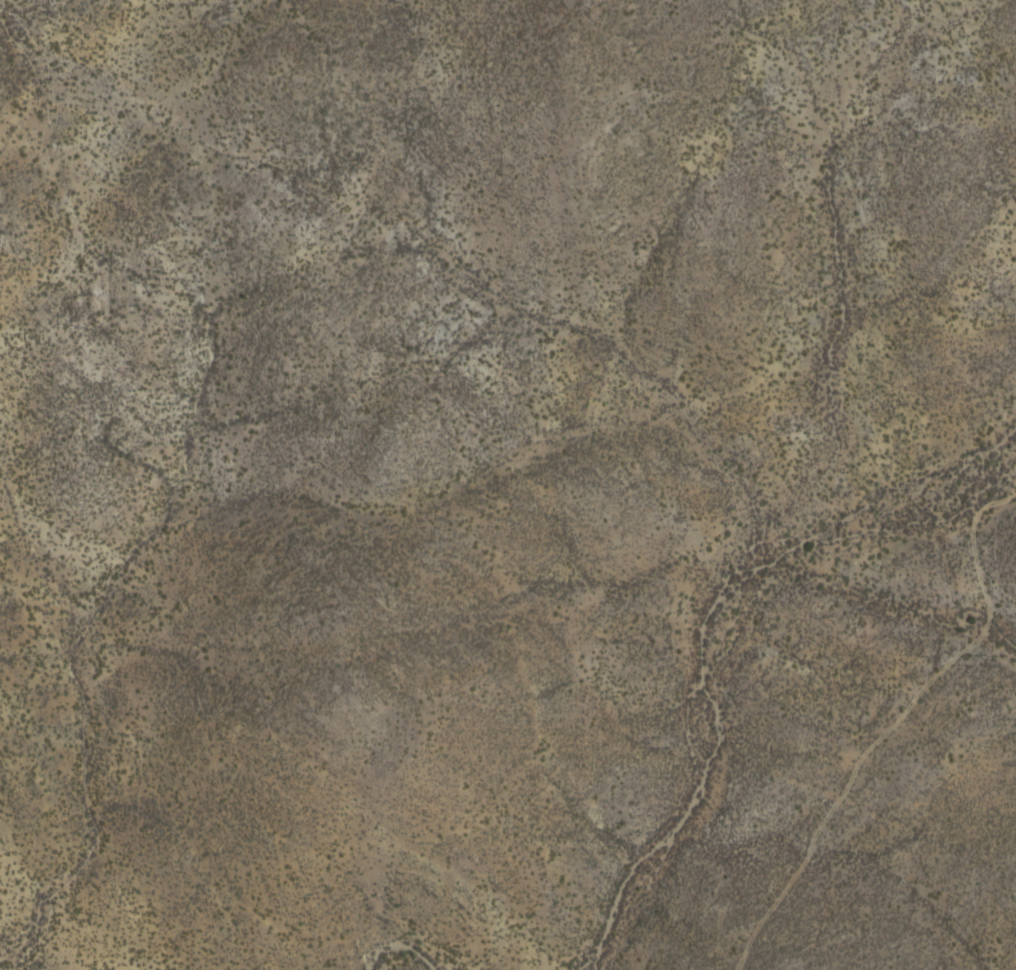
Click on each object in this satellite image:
road: (904, 733)

